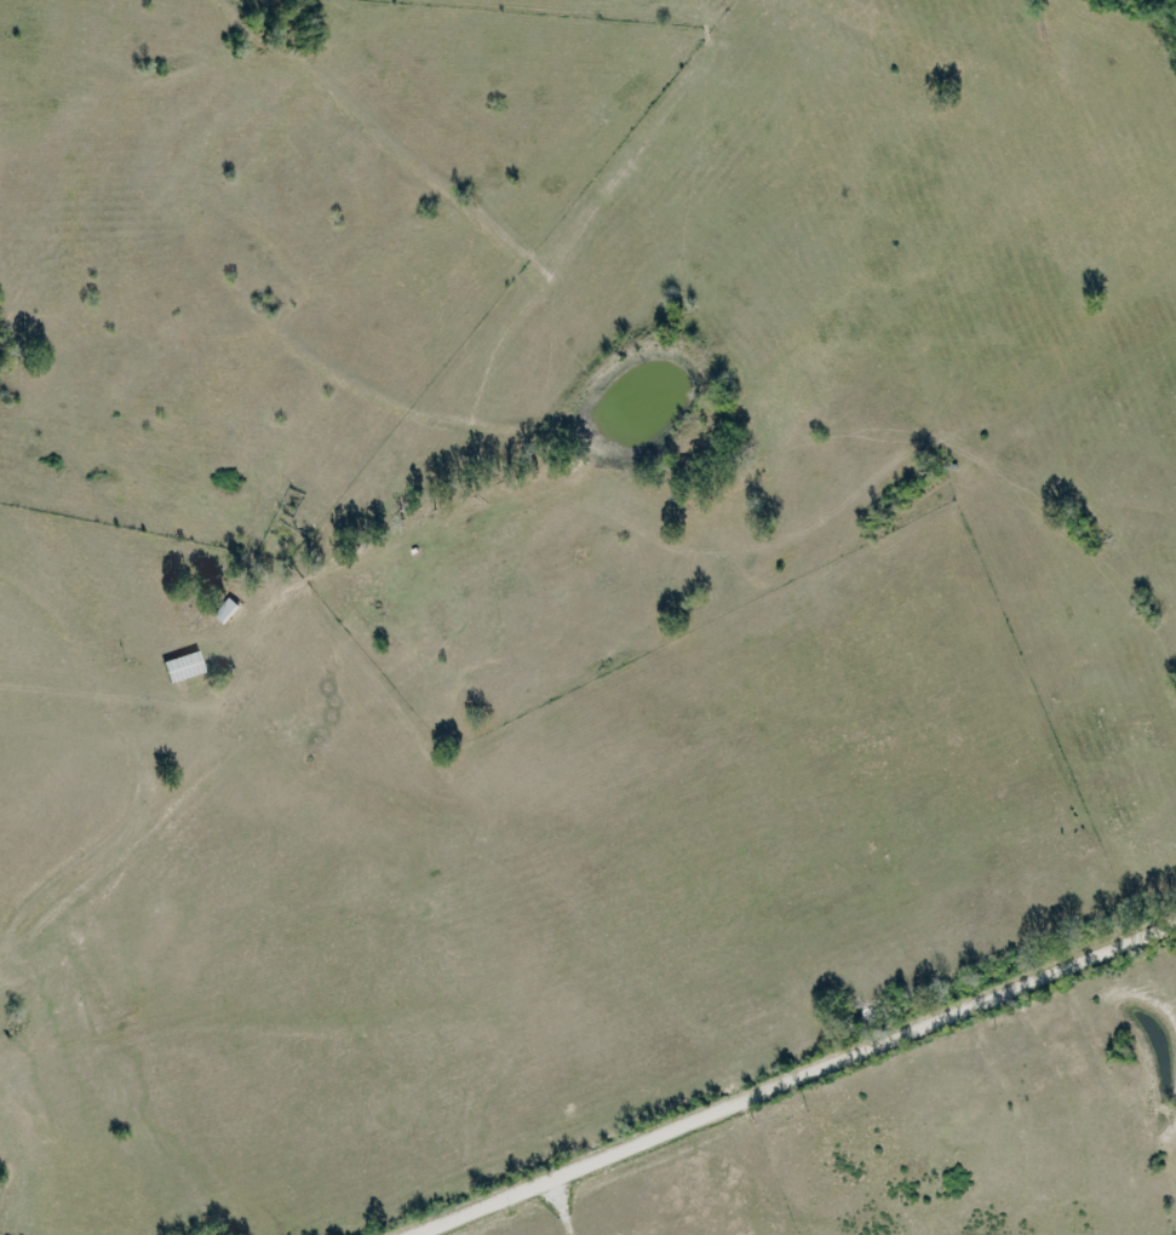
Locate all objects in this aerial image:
building: (187, 666)
road: (791, 1078)

